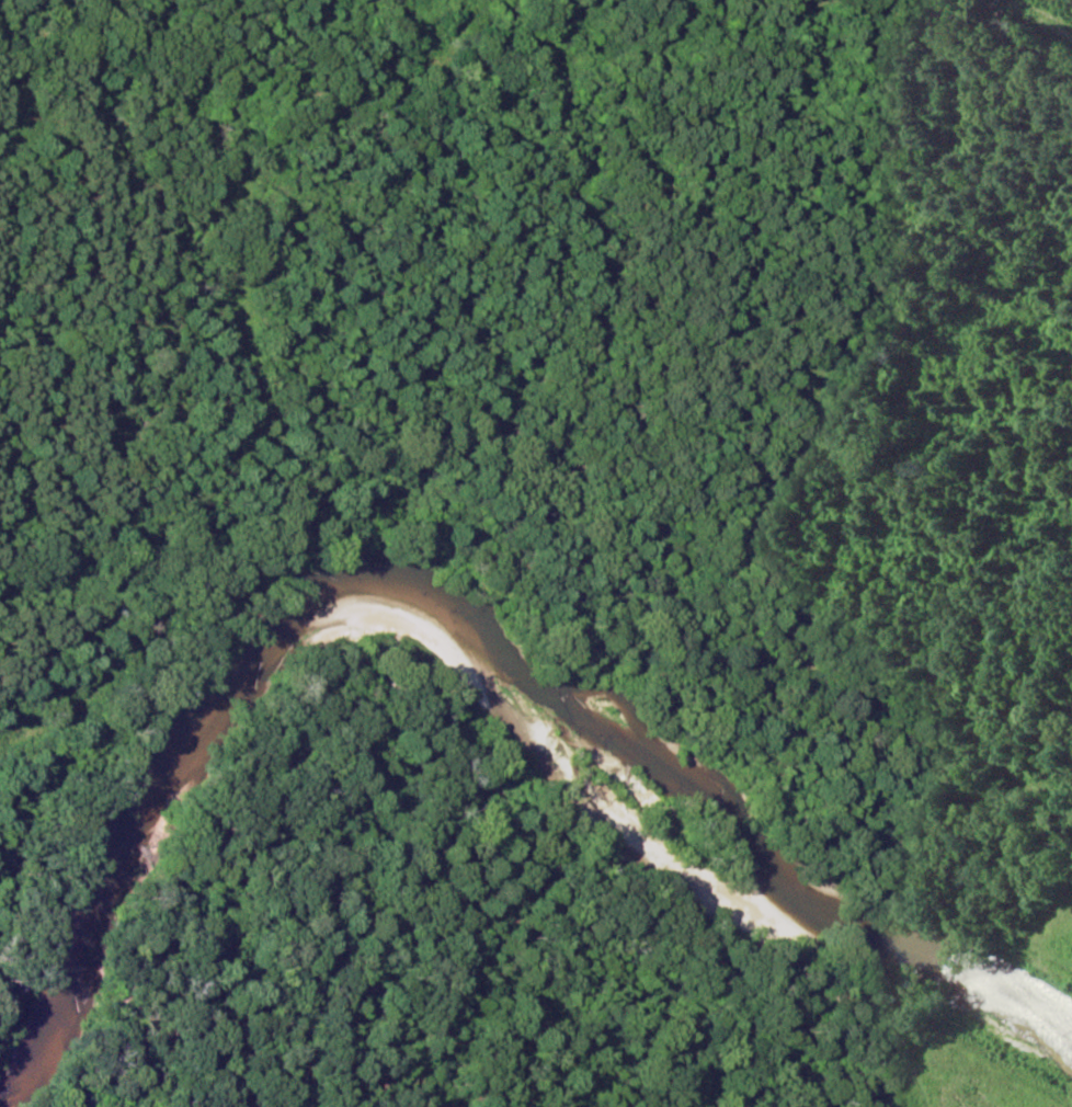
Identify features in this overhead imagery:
road: (889, 68)

